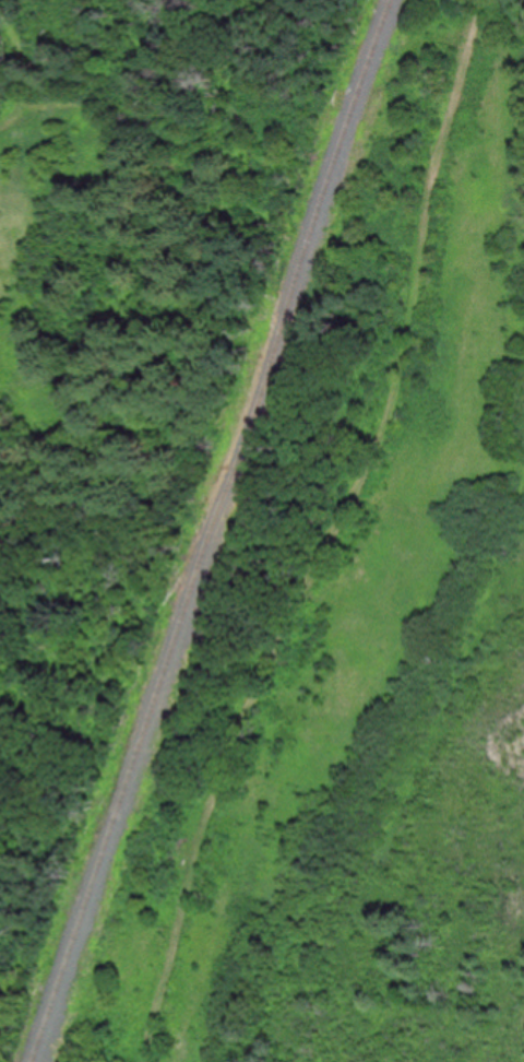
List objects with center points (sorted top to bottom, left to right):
road: (16, 72)
railway: (216, 530)
park: (262, 531)
road: (334, 536)

